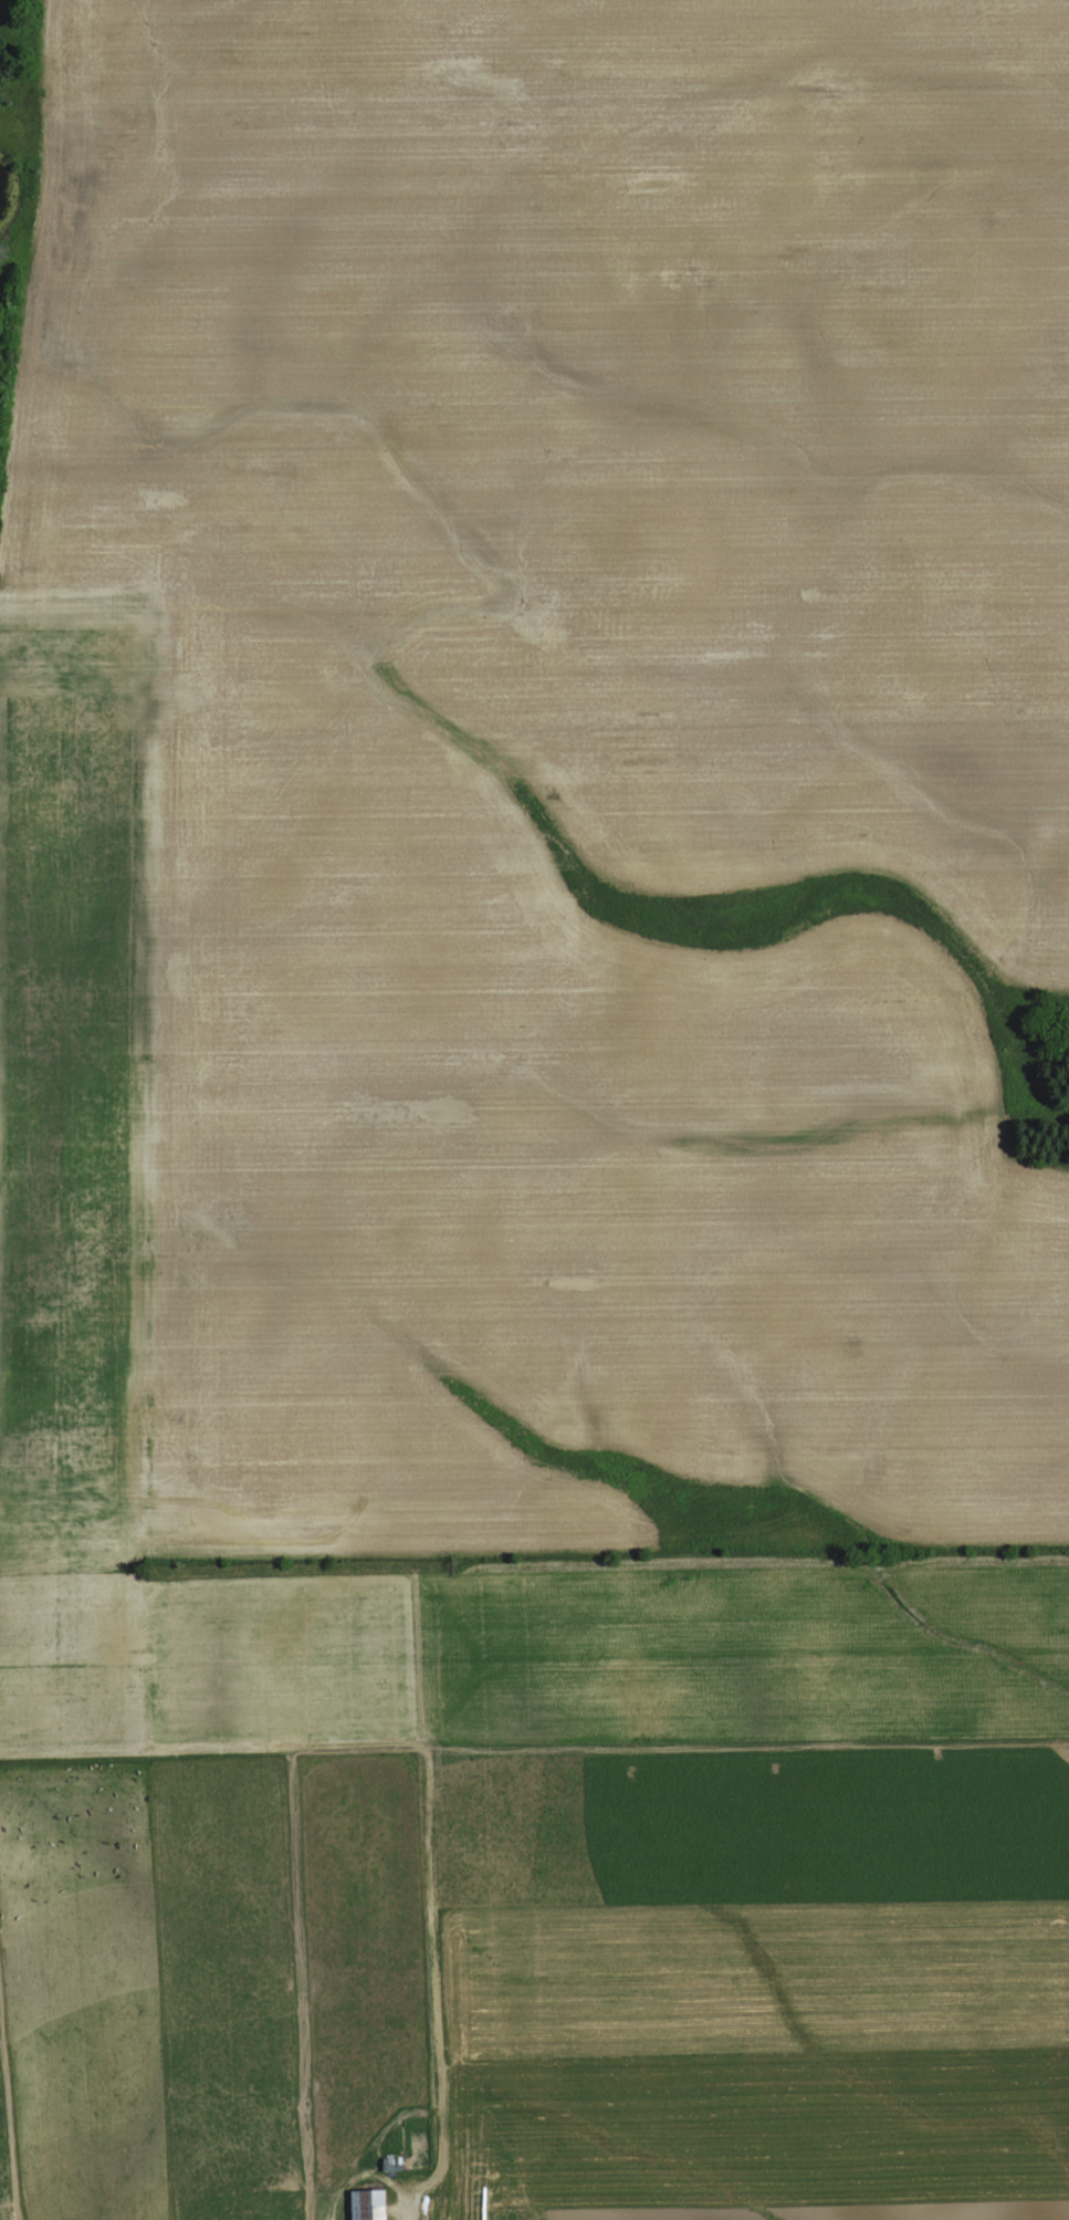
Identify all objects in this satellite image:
building: (370, 2205)
road: (401, 2216)

